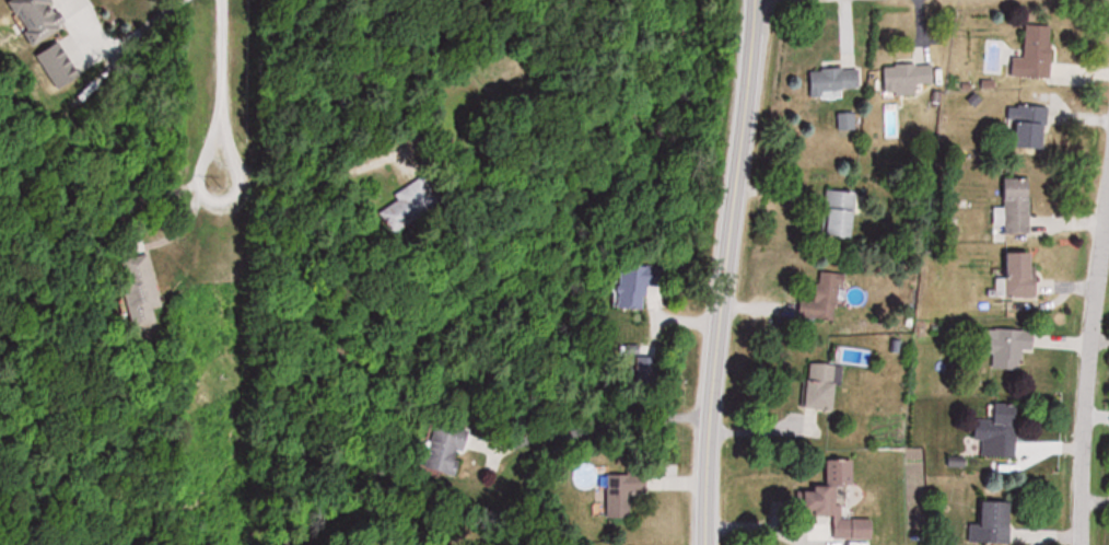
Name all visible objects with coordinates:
building: (38, 19)
road: (144, 21)
building: (1038, 54)
building: (61, 66)
building: (909, 78)
building: (836, 81)
road: (215, 97)
building: (848, 123)
building: (1032, 126)
power tower: (208, 166)
building: (420, 201)
building: (1019, 207)
building: (842, 213)
road: (715, 271)
building: (1020, 276)
building: (642, 282)
building: (143, 289)
building: (826, 298)
building: (1009, 347)
road: (1086, 360)
building: (825, 386)
road: (591, 422)
building: (1000, 430)
building: (453, 448)
building: (627, 491)
building: (839, 507)
building: (995, 524)

